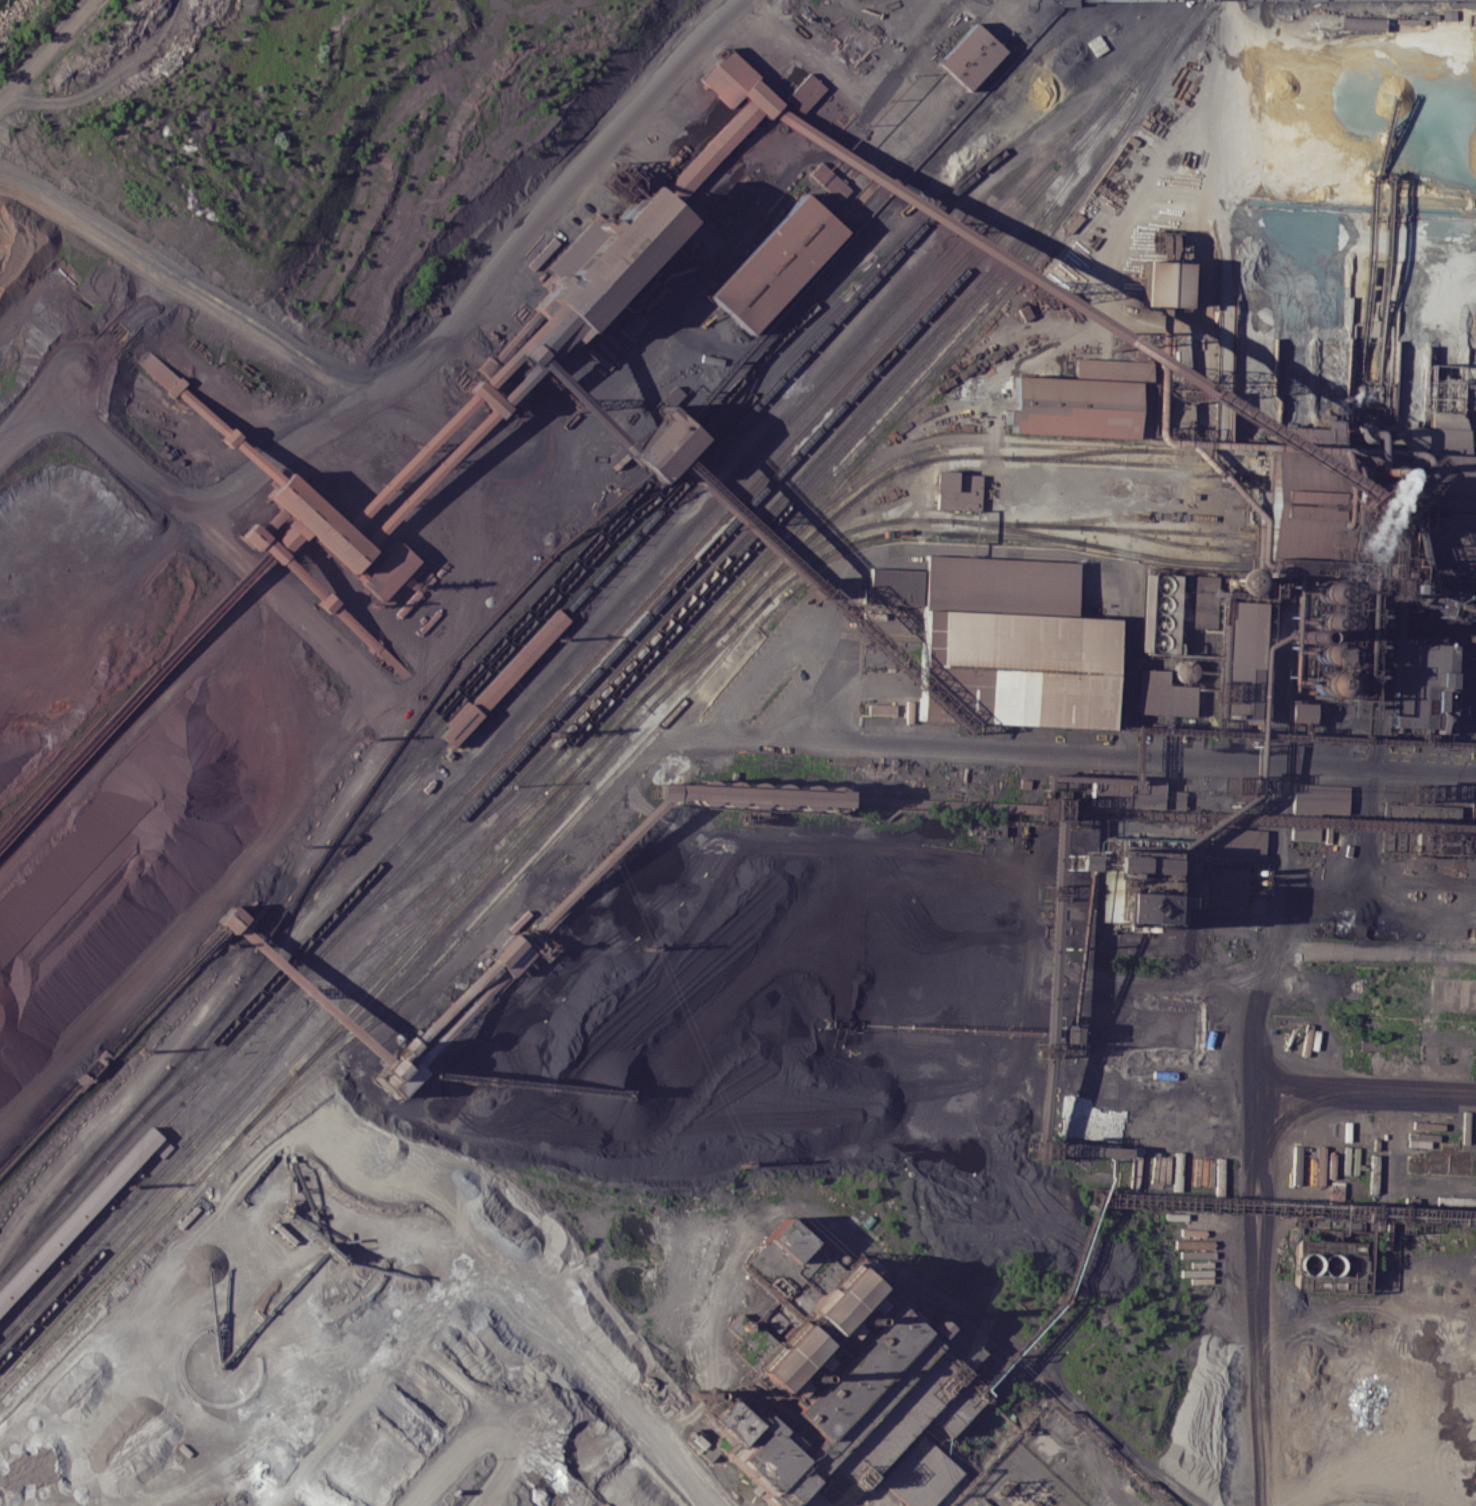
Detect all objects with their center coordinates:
building: (1068, 3)
road: (1250, 11)
building: (970, 56)
railway: (1159, 63)
railway: (1161, 71)
building: (727, 77)
building: (805, 92)
building: (760, 98)
road: (856, 99)
railway: (1084, 150)
building: (709, 153)
building: (829, 181)
road: (557, 198)
road: (1208, 210)
road: (1338, 235)
building: (611, 255)
building: (774, 263)
building: (1164, 282)
railway: (856, 294)
building: (1065, 305)
road: (242, 318)
building: (630, 324)
road: (1195, 329)
building: (542, 338)
railway: (776, 340)
building: (514, 345)
building: (155, 368)
building: (512, 384)
building: (177, 387)
building: (1441, 393)
building: (673, 395)
building: (483, 398)
building: (1068, 406)
building: (1130, 406)
building: (583, 407)
railway: (797, 408)
building: (204, 411)
road: (28, 416)
railway: (920, 417)
road: (994, 421)
building: (230, 435)
chimney: (1348, 438)
building: (662, 445)
railway: (1134, 448)
railway: (1077, 452)
railway: (671, 454)
railway: (1362, 459)
building: (256, 460)
building: (409, 461)
railway: (1116, 461)
railway: (887, 462)
railway: (1469, 464)
railway: (1361, 472)
railway: (1469, 477)
building: (426, 478)
road: (152, 479)
road: (1190, 482)
railway: (749, 489)
building: (957, 489)
building: (1360, 505)
railway: (814, 511)
railway: (1095, 518)
building: (270, 519)
railway: (733, 520)
building: (317, 521)
railway: (1359, 524)
railway: (1136, 527)
railway: (1468, 529)
building: (289, 535)
railway: (1011, 536)
railway: (830, 537)
railway: (608, 538)
railway: (1358, 539)
railway: (1167, 541)
building: (262, 542)
railway: (1467, 544)
railway: (1103, 545)
road: (1053, 552)
railway: (1357, 554)
railway: (1467, 559)
railway: (724, 560)
railway: (732, 565)
railway: (1357, 569)
railway: (1467, 574)
building: (360, 575)
building: (393, 575)
building: (302, 577)
railway: (733, 581)
building: (999, 584)
building: (890, 585)
railway: (778, 589)
building: (326, 601)
building: (1158, 611)
building: (352, 623)
building: (1475, 633)
building: (374, 645)
railway: (686, 659)
building: (1238, 659)
building: (393, 661)
building: (1015, 667)
road: (1469, 669)
building: (504, 677)
railway: (504, 677)
building: (1424, 685)
building: (1163, 692)
building: (881, 709)
railway: (433, 713)
building: (1301, 713)
road: (1474, 744)
railway: (600, 761)
road: (621, 769)
building: (1125, 792)
building: (747, 793)
railway: (541, 799)
building: (1175, 799)
railway: (373, 818)
building: (1303, 834)
building: (1237, 841)
road: (1277, 852)
building: (1133, 866)
building: (594, 867)
railway: (517, 877)
building: (1225, 886)
railway: (463, 891)
building: (1131, 907)
railway: (331, 913)
building: (232, 919)
railway: (369, 943)
building: (510, 954)
building: (310, 994)
building: (453, 1005)
building: (459, 1017)
road: (1241, 1024)
road: (1149, 1036)
railway: (242, 1039)
road: (1191, 1056)
railway: (243, 1063)
railway: (202, 1067)
building: (395, 1070)
road: (1305, 1083)
railway: (124, 1123)
railway: (229, 1128)
building: (907, 1166)
building: (1295, 1171)
railway: (160, 1184)
building: (864, 1186)
railway: (66, 1203)
building: (81, 1213)
railway: (77, 1216)
road: (517, 1230)
building: (680, 1230)
building: (927, 1241)
railway: (128, 1255)
building: (783, 1256)
railway: (78, 1258)
building: (901, 1261)
building: (1327, 1265)
road: (1261, 1291)
building: (831, 1298)
road: (1392, 1305)
building: (1014, 1312)
building: (934, 1326)
building: (962, 1342)
building: (782, 1358)
building: (852, 1372)
building: (763, 1460)
building: (921, 1474)
building: (811, 1498)
road: (1329, 1499)

